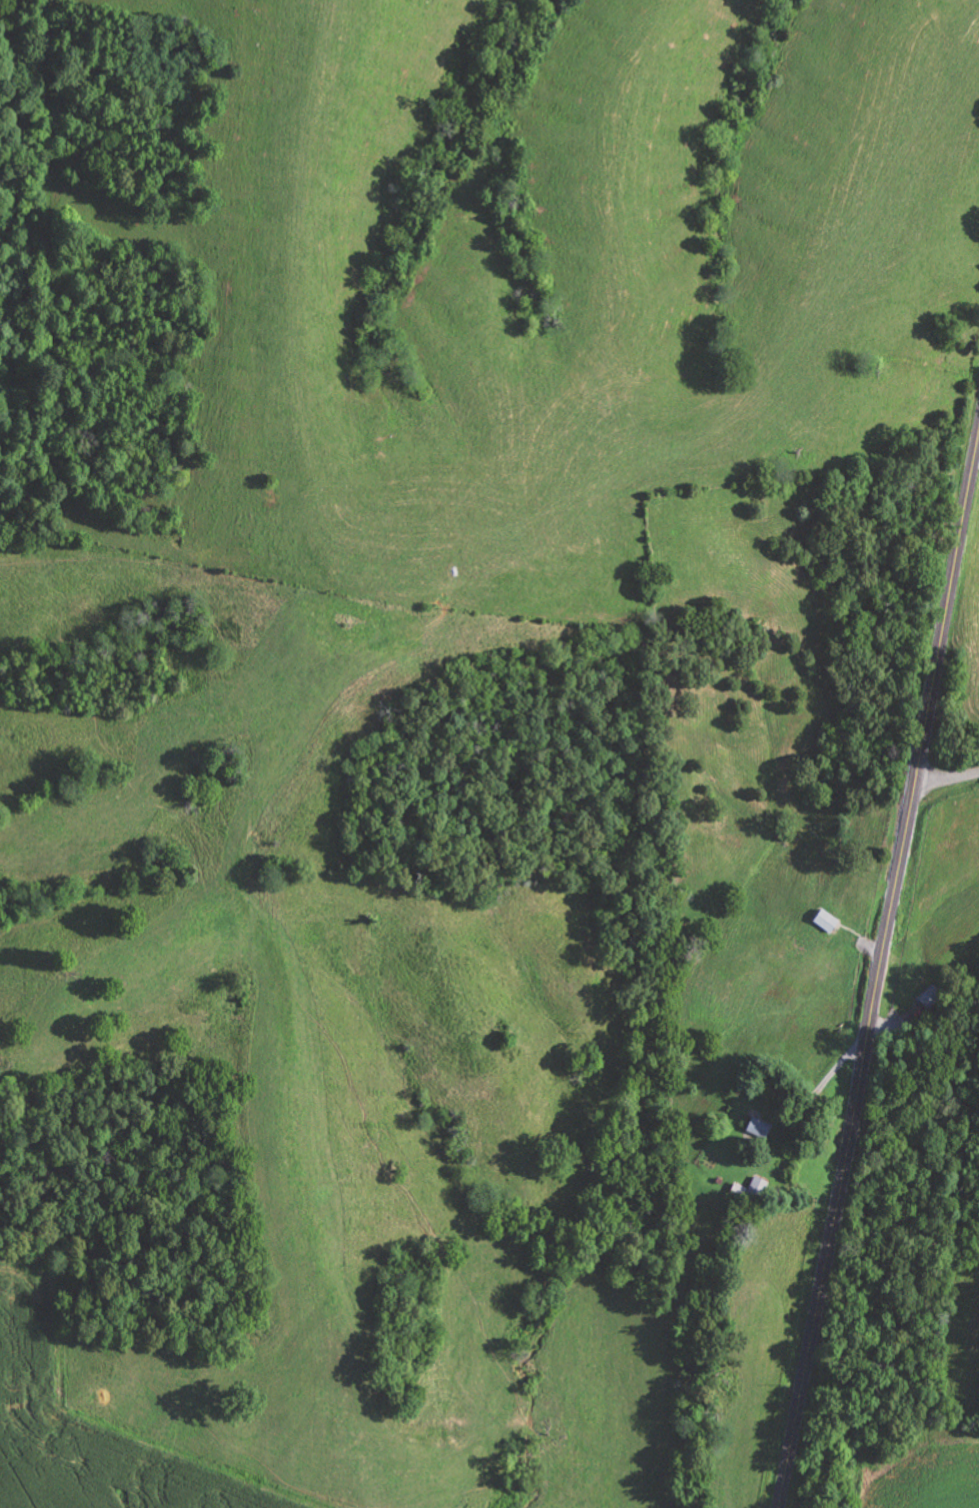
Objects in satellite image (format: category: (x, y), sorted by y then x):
road: (947, 781)
building: (823, 922)
road: (879, 973)
building: (752, 1130)

